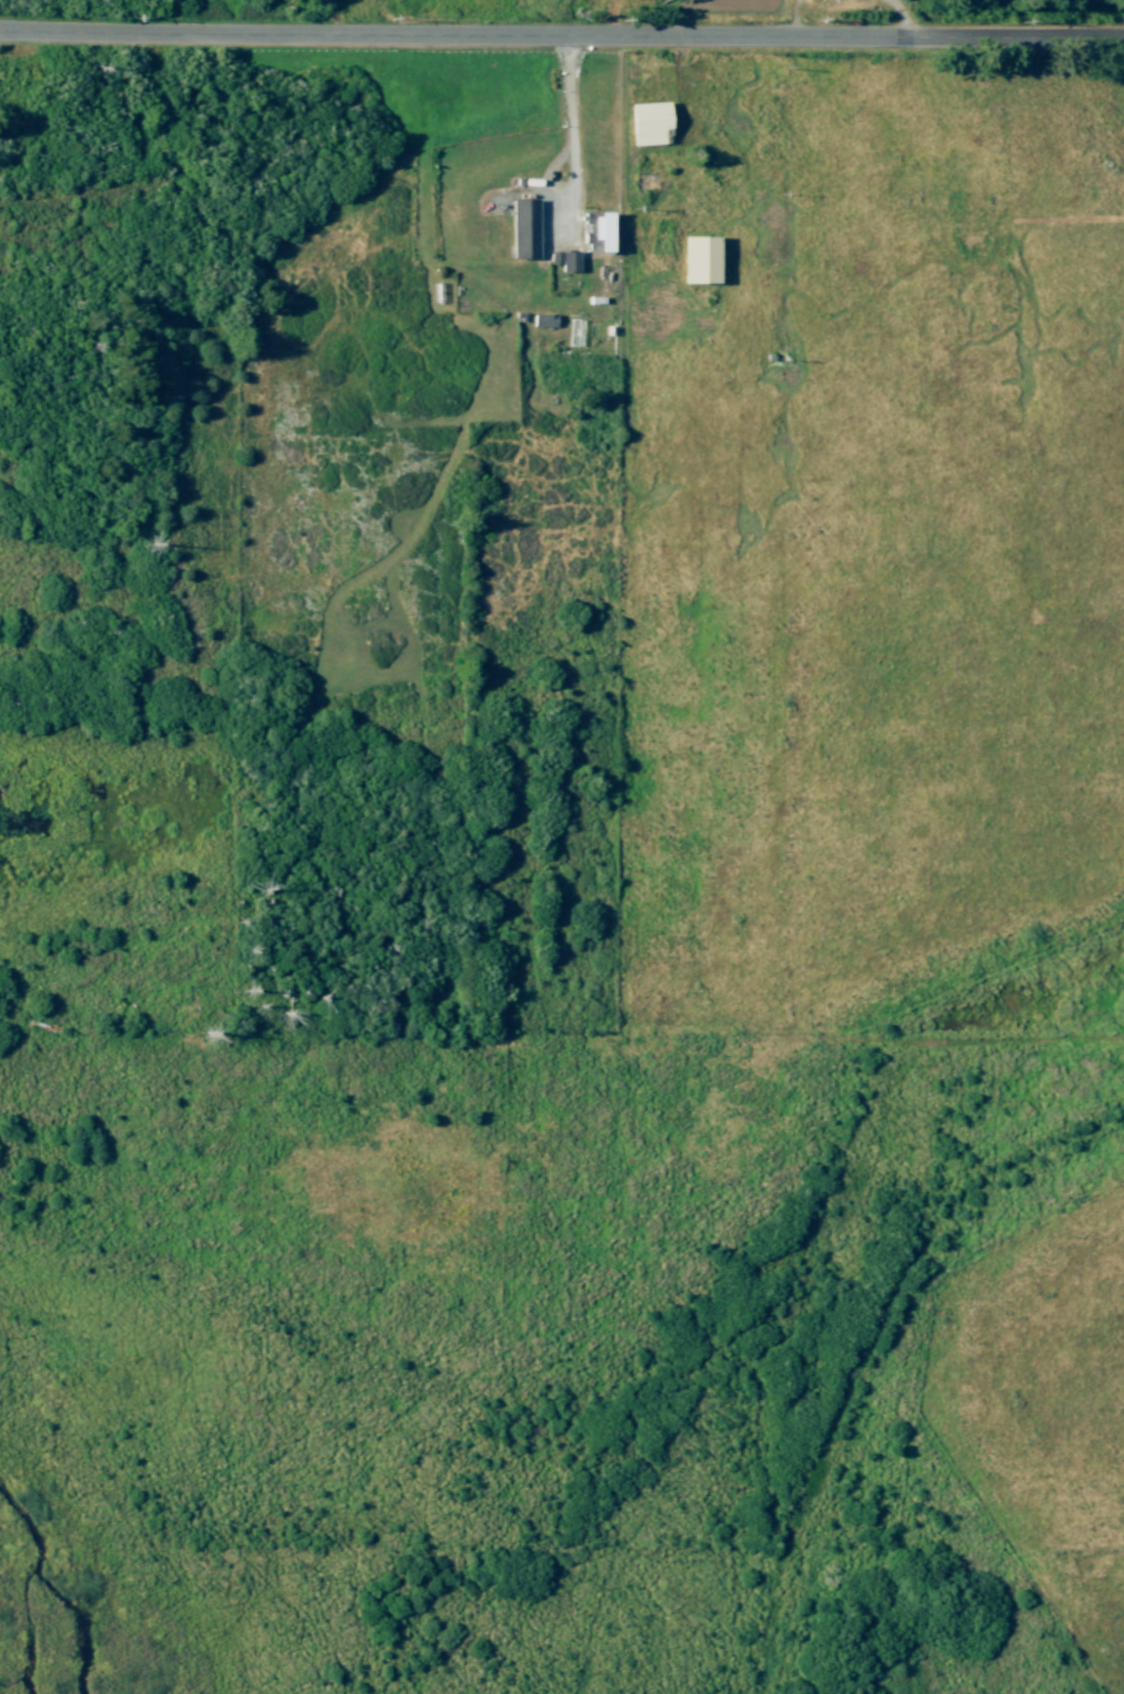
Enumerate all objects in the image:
road: (900, 18)
road: (795, 20)
road: (562, 39)
road: (678, 79)
building: (644, 121)
road: (570, 130)
building: (520, 227)
building: (595, 229)
building: (551, 256)
building: (696, 258)
building: (566, 259)
building: (541, 318)

